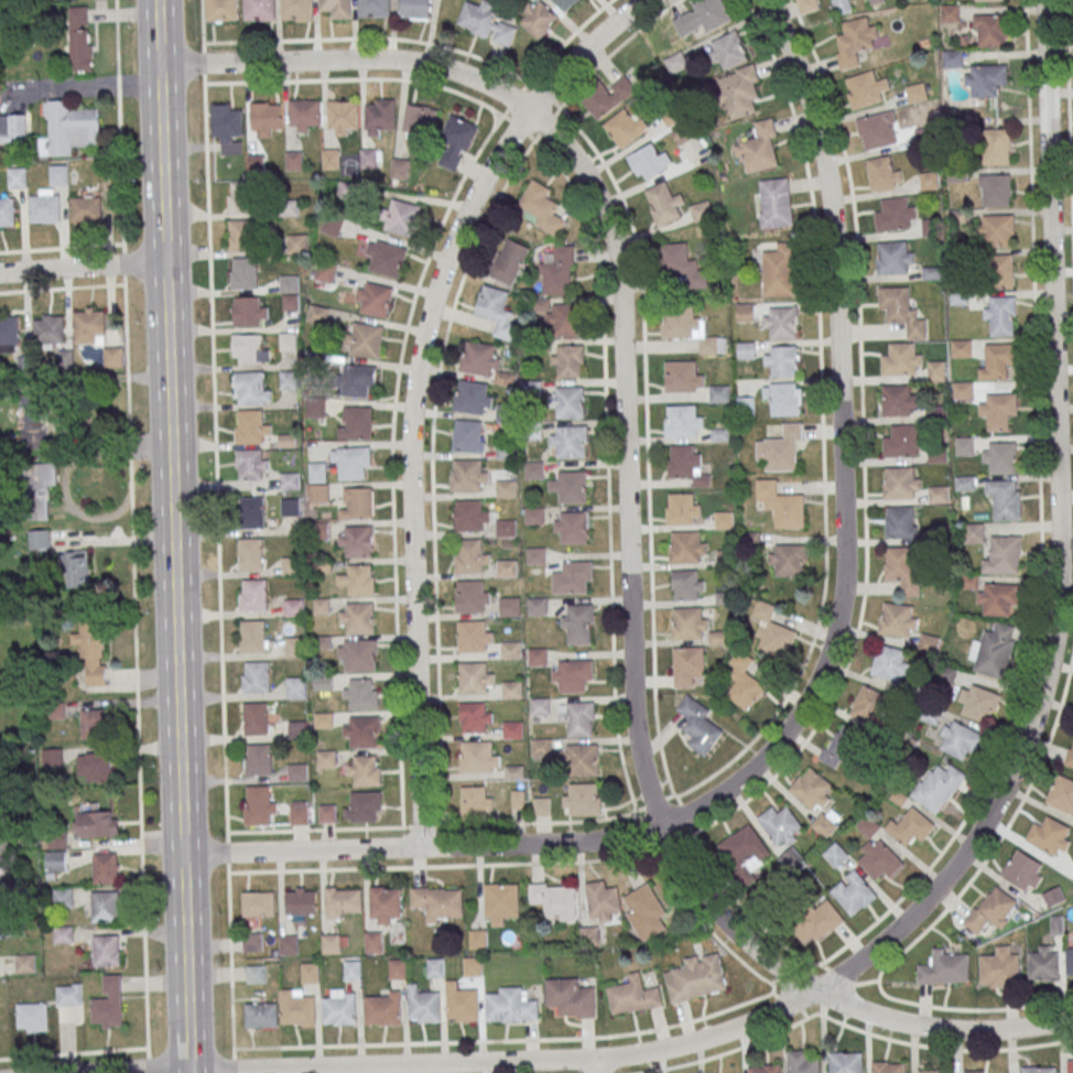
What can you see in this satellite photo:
building: (987, 0)
building: (876, 1)
building: (565, 3)
building: (808, 4)
building: (842, 6)
building: (337, 8)
building: (373, 8)
building: (415, 9)
building: (223, 10)
building: (259, 10)
building: (297, 10)
building: (950, 12)
building: (709, 14)
building: (538, 19)
building: (486, 23)
building: (988, 30)
building: (80, 39)
building: (856, 40)
building: (727, 51)
building: (952, 57)
building: (985, 78)
building: (863, 88)
building: (740, 91)
building: (607, 97)
building: (305, 116)
building: (343, 116)
building: (380, 117)
building: (267, 118)
building: (419, 121)
building: (626, 127)
road: (1069, 127)
building: (228, 128)
building: (12, 129)
building: (67, 129)
building: (878, 129)
building: (681, 134)
building: (457, 142)
building: (996, 145)
building: (759, 149)
building: (332, 159)
building: (370, 159)
building: (294, 161)
building: (649, 161)
building: (256, 163)
building: (400, 169)
building: (884, 172)
building: (58, 175)
building: (17, 177)
building: (929, 180)
building: (995, 189)
building: (242, 200)
building: (774, 203)
building: (663, 204)
building: (540, 208)
building: (702, 210)
building: (45, 212)
building: (87, 212)
building: (896, 214)
building: (7, 215)
building: (401, 218)
building: (330, 227)
building: (996, 230)
building: (242, 238)
building: (297, 243)
road: (61, 249)
building: (384, 258)
building: (893, 260)
building: (509, 261)
building: (683, 265)
road: (83, 269)
building: (779, 270)
building: (1002, 270)
building: (557, 271)
building: (325, 272)
building: (245, 275)
building: (290, 293)
building: (377, 300)
building: (496, 311)
building: (744, 313)
building: (248, 314)
building: (318, 314)
building: (902, 314)
building: (1000, 315)
building: (566, 322)
building: (781, 322)
building: (680, 324)
building: (90, 329)
building: (9, 333)
building: (50, 333)
building: (364, 339)
building: (288, 342)
building: (746, 350)
building: (962, 350)
building: (248, 351)
building: (112, 357)
building: (483, 360)
building: (781, 360)
building: (901, 361)
building: (570, 364)
building: (997, 364)
building: (936, 371)
building: (683, 379)
road: (621, 380)
building: (358, 381)
road: (414, 386)
building: (250, 390)
building: (963, 392)
building: (719, 394)
building: (474, 398)
building: (782, 398)
building: (897, 403)
building: (567, 404)
building: (746, 407)
building: (315, 409)
building: (999, 413)
building: (936, 415)
building: (32, 421)
building: (355, 422)
building: (683, 424)
road: (171, 426)
building: (250, 430)
building: (532, 432)
building: (469, 436)
building: (571, 444)
building: (903, 444)
building: (965, 447)
building: (781, 449)
building: (999, 455)
building: (937, 456)
building: (350, 463)
building: (685, 464)
building: (251, 465)
building: (534, 472)
building: (317, 473)
building: (467, 478)
building: (290, 480)
building: (965, 483)
building: (901, 486)
building: (37, 489)
building: (571, 489)
building: (507, 490)
building: (318, 492)
building: (939, 497)
building: (1005, 502)
building: (356, 503)
building: (781, 505)
building: (290, 507)
building: (682, 512)
building: (252, 514)
building: (472, 516)
building: (535, 518)
building: (724, 520)
building: (901, 521)
road: (131, 523)
building: (507, 530)
building: (573, 530)
building: (973, 532)
building: (940, 534)
road: (217, 536)
road: (1060, 538)
building: (39, 539)
building: (356, 542)
building: (687, 550)
building: (1004, 555)
building: (250, 557)
building: (535, 557)
building: (468, 560)
building: (788, 561)
building: (900, 563)
building: (289, 566)
building: (74, 570)
building: (508, 571)
building: (358, 579)
building: (573, 581)
building: (687, 585)
building: (997, 597)
building: (254, 598)
building: (470, 599)
building: (321, 606)
building: (294, 608)
building: (538, 608)
building: (510, 609)
building: (357, 618)
building: (898, 619)
building: (578, 626)
building: (689, 627)
building: (772, 630)
road: (1033, 635)
building: (253, 640)
building: (472, 640)
building: (929, 642)
building: (294, 647)
building: (93, 649)
building: (994, 650)
building: (511, 652)
building: (357, 655)
building: (538, 659)
building: (890, 662)
building: (689, 668)
building: (573, 678)
building: (257, 681)
building: (474, 681)
road: (814, 681)
building: (743, 682)
building: (295, 687)
building: (512, 692)
building: (360, 694)
building: (979, 702)
building: (869, 704)
building: (540, 708)
building: (476, 717)
building: (578, 718)
building: (323, 720)
building: (256, 723)
building: (94, 724)
building: (698, 726)
building: (296, 730)
building: (361, 731)
building: (513, 731)
building: (960, 739)
building: (842, 747)
building: (541, 749)
building: (1070, 755)
building: (53, 757)
building: (326, 759)
building: (478, 760)
building: (581, 760)
building: (260, 762)
building: (95, 767)
building: (364, 770)
building: (297, 772)
building: (939, 787)
building: (812, 790)
building: (1062, 793)
building: (581, 799)
road: (669, 799)
building: (476, 801)
building: (362, 806)
building: (541, 806)
building: (258, 809)
building: (327, 813)
building: (299, 814)
building: (825, 822)
building: (98, 824)
building: (868, 825)
building: (781, 826)
building: (910, 826)
building: (1050, 836)
building: (1, 844)
building: (745, 850)
building: (835, 854)
building: (879, 858)
building: (106, 868)
building: (1023, 870)
building: (853, 892)
building: (1054, 896)
building: (63, 898)
building: (301, 901)
building: (554, 901)
building: (600, 901)
building: (343, 902)
building: (258, 903)
building: (438, 903)
building: (500, 903)
building: (384, 906)
building: (105, 907)
building: (991, 909)
building: (646, 913)
road: (940, 915)
building: (817, 923)
building: (63, 934)
building: (588, 935)
building: (478, 939)
building: (252, 942)
building: (372, 942)
building: (288, 944)
building: (330, 944)
building: (106, 951)
building: (1070, 958)
building: (25, 963)
building: (1043, 963)
road: (185, 964)
building: (472, 966)
building: (1000, 966)
building: (435, 967)
building: (945, 967)
building: (398, 968)
building: (351, 969)
building: (310, 973)
building: (256, 974)
building: (696, 978)
building: (68, 995)
building: (632, 996)
building: (571, 998)
building: (108, 1004)
building: (462, 1004)
building: (423, 1006)
building: (510, 1006)
building: (339, 1007)
building: (297, 1008)
building: (382, 1008)
road: (815, 1012)
building: (261, 1015)
building: (32, 1018)
road: (1038, 1043)
road: (74, 1054)
road: (592, 1059)
road: (148, 1060)
building: (803, 1062)
building: (846, 1062)
road: (596, 1065)
building: (1070, 1065)
building: (888, 1066)
building: (766, 1069)
building: (1040, 1070)
building: (935, 1071)
building: (974, 1071)

